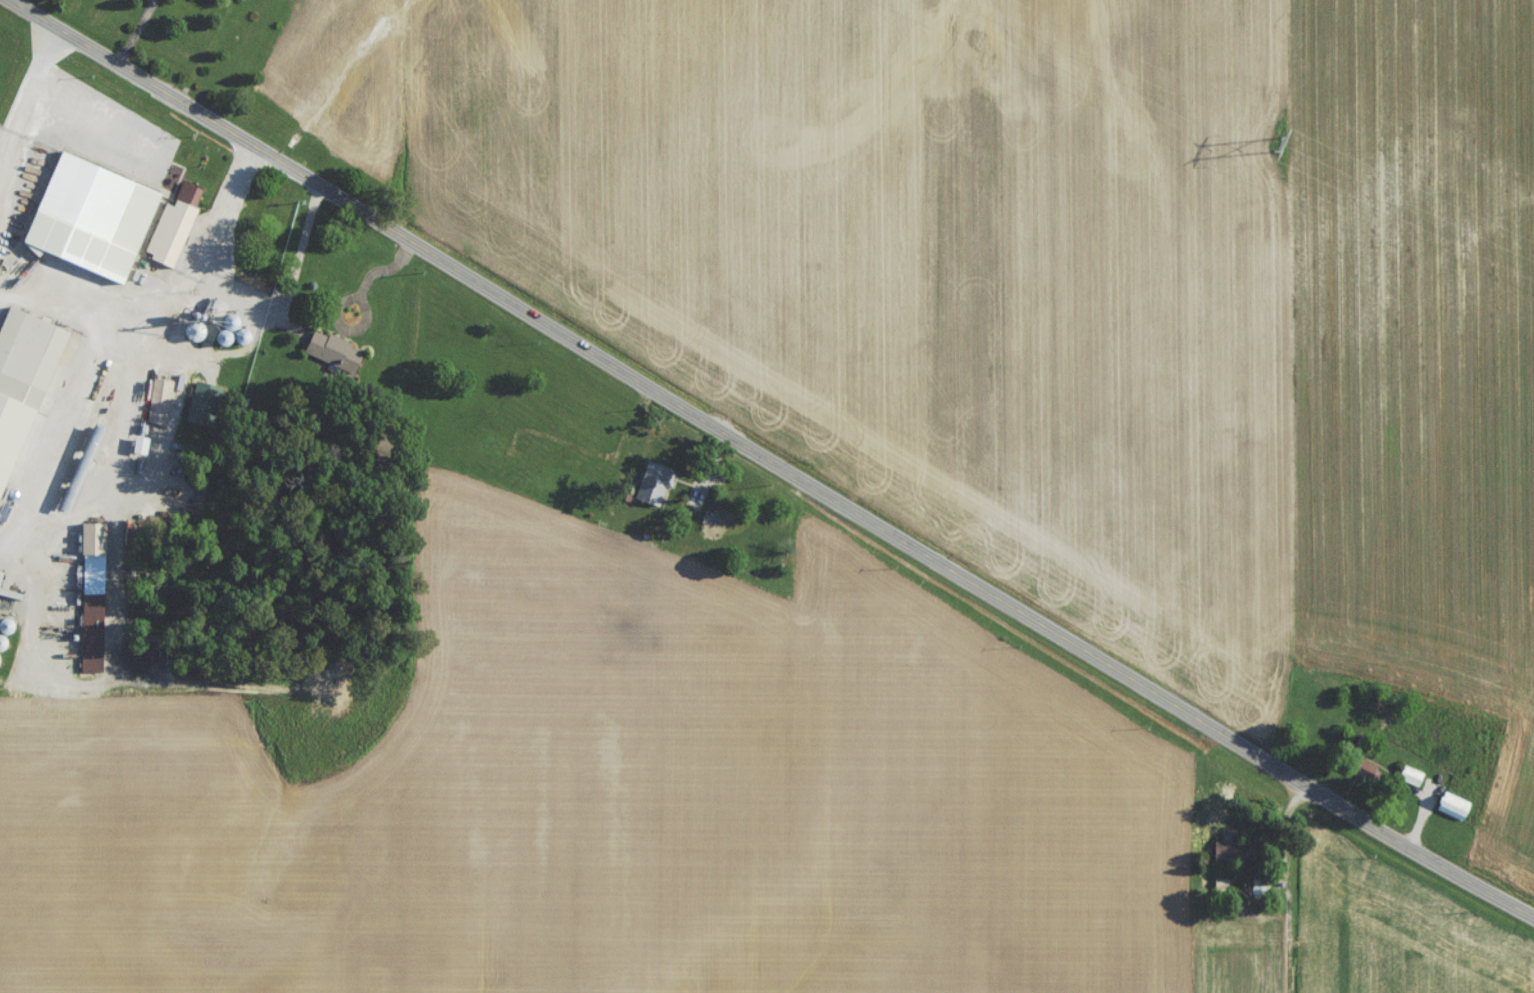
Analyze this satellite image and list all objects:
building: (202, 2)
road: (23, 87)
power tower: (1272, 149)
building: (85, 201)
building: (173, 231)
road: (121, 330)
building: (35, 356)
building: (333, 356)
building: (159, 397)
building: (13, 438)
building: (491, 450)
road: (775, 459)
building: (652, 488)
building: (93, 602)
building: (1410, 781)
building: (1453, 811)
building: (1231, 855)
road: (1286, 882)

